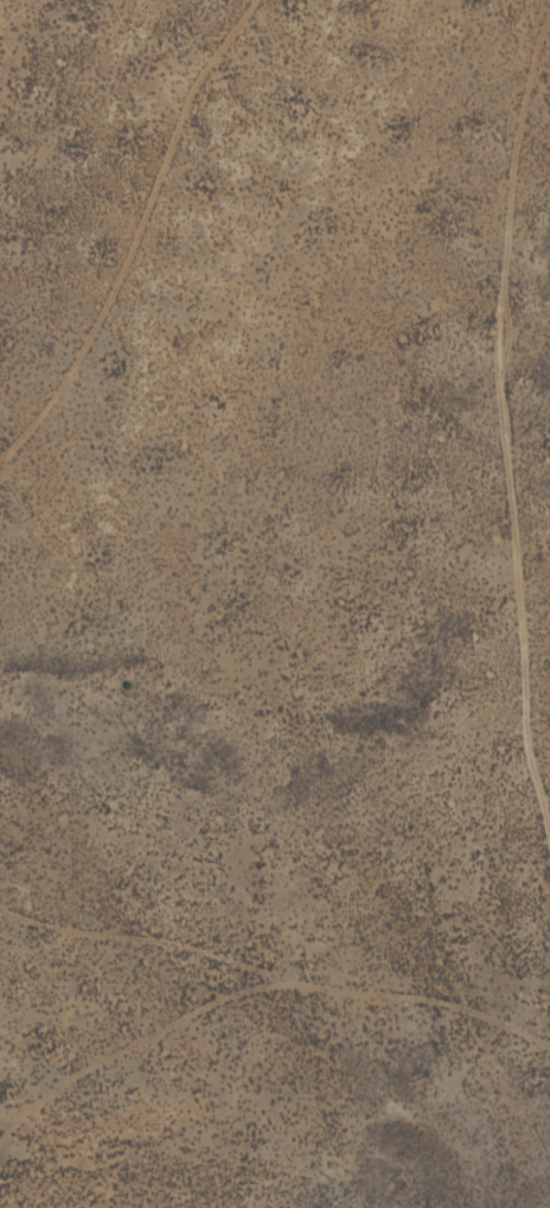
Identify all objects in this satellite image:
road: (53, 460)

